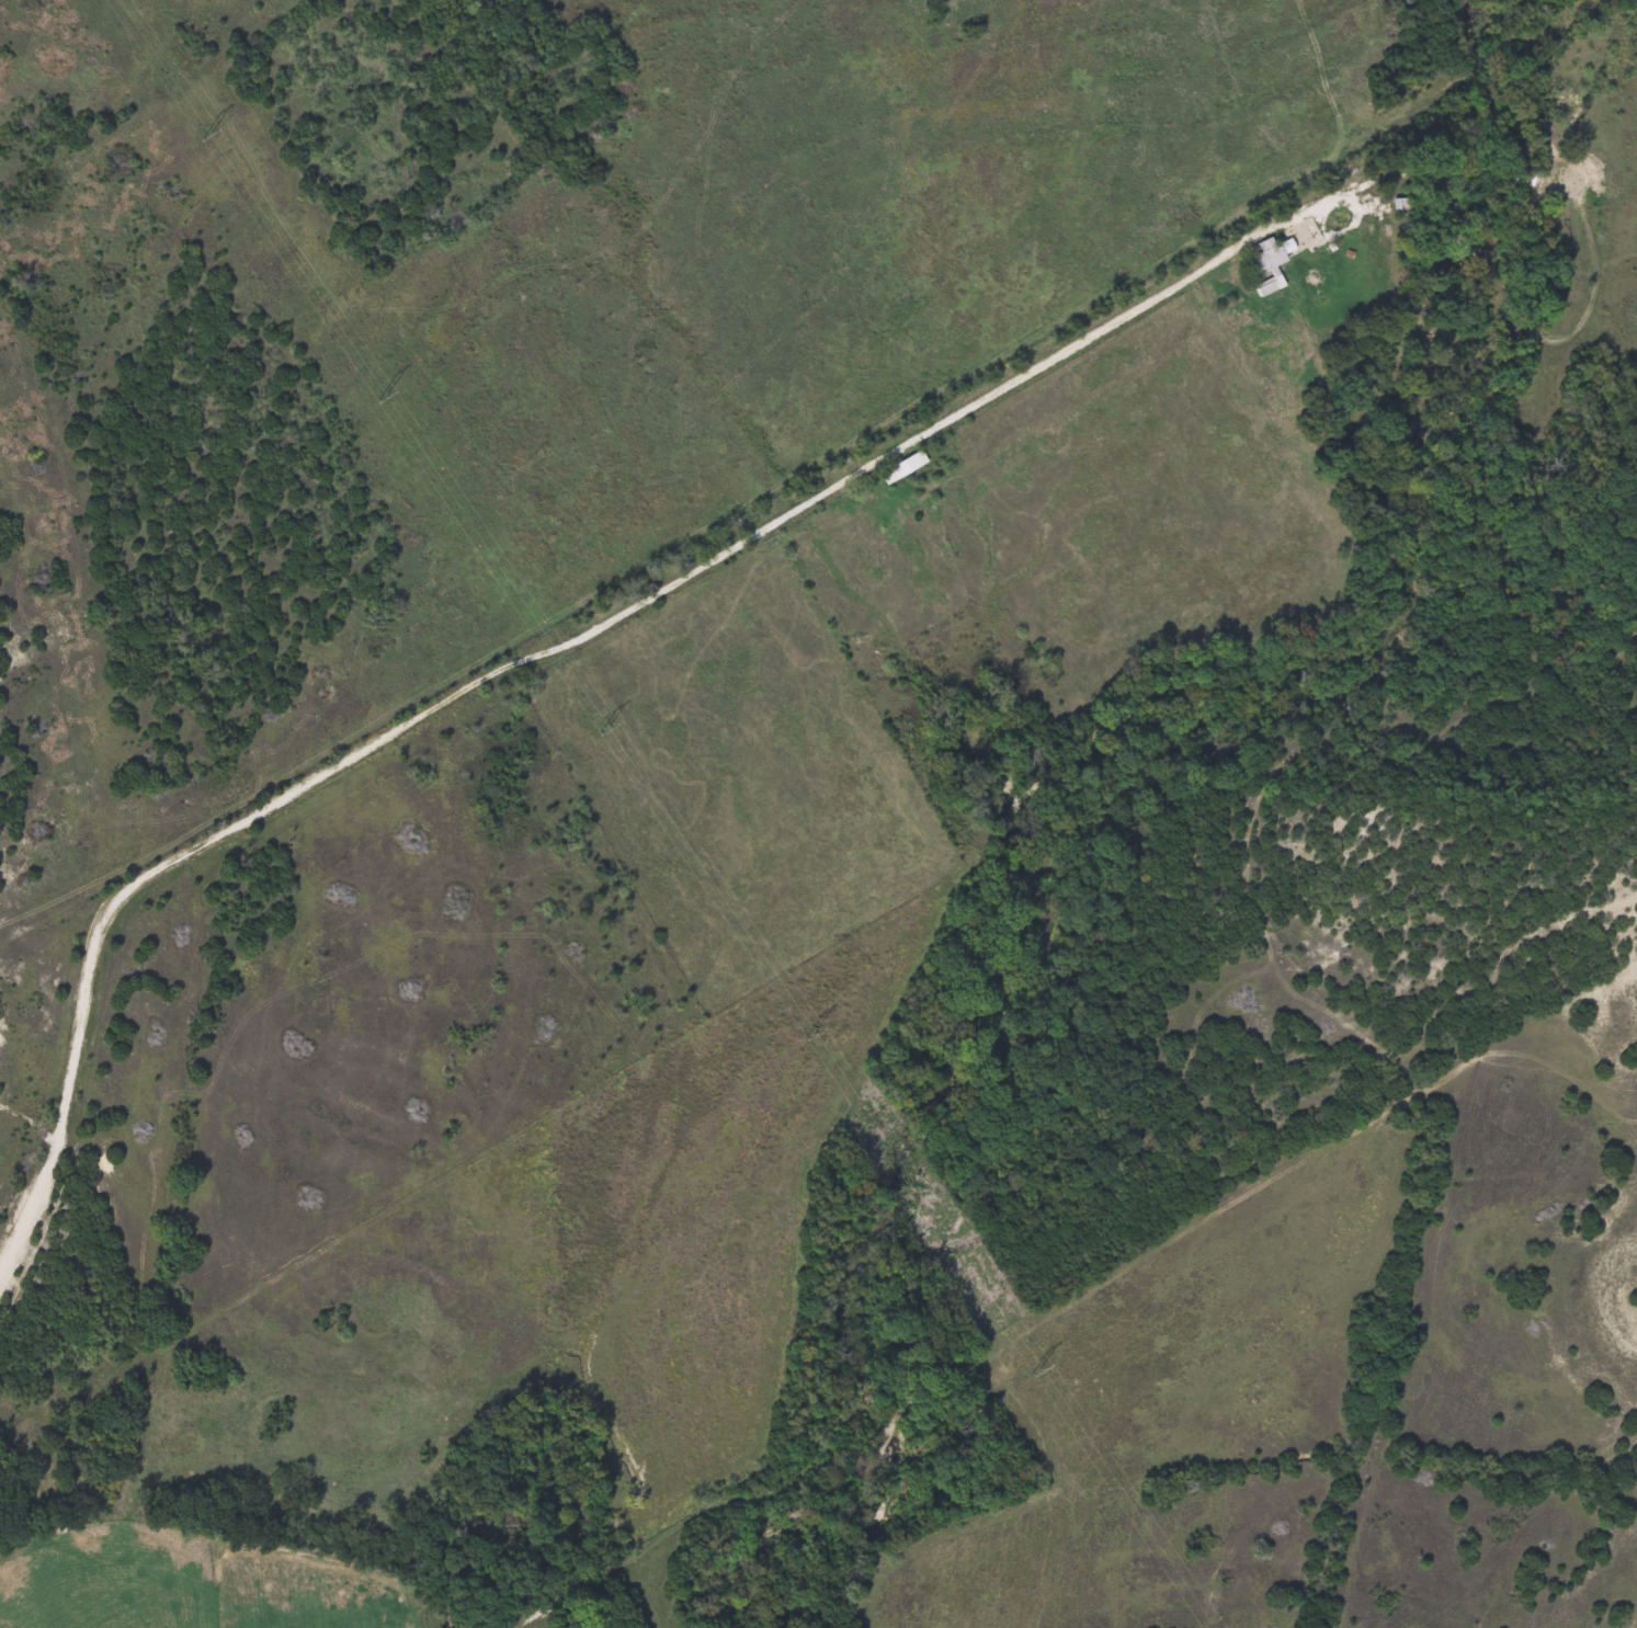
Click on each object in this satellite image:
building: (1546, 171)
building: (1261, 258)
building: (1260, 288)
building: (898, 468)
road: (825, 488)
road: (27, 1122)
road: (26, 1206)

